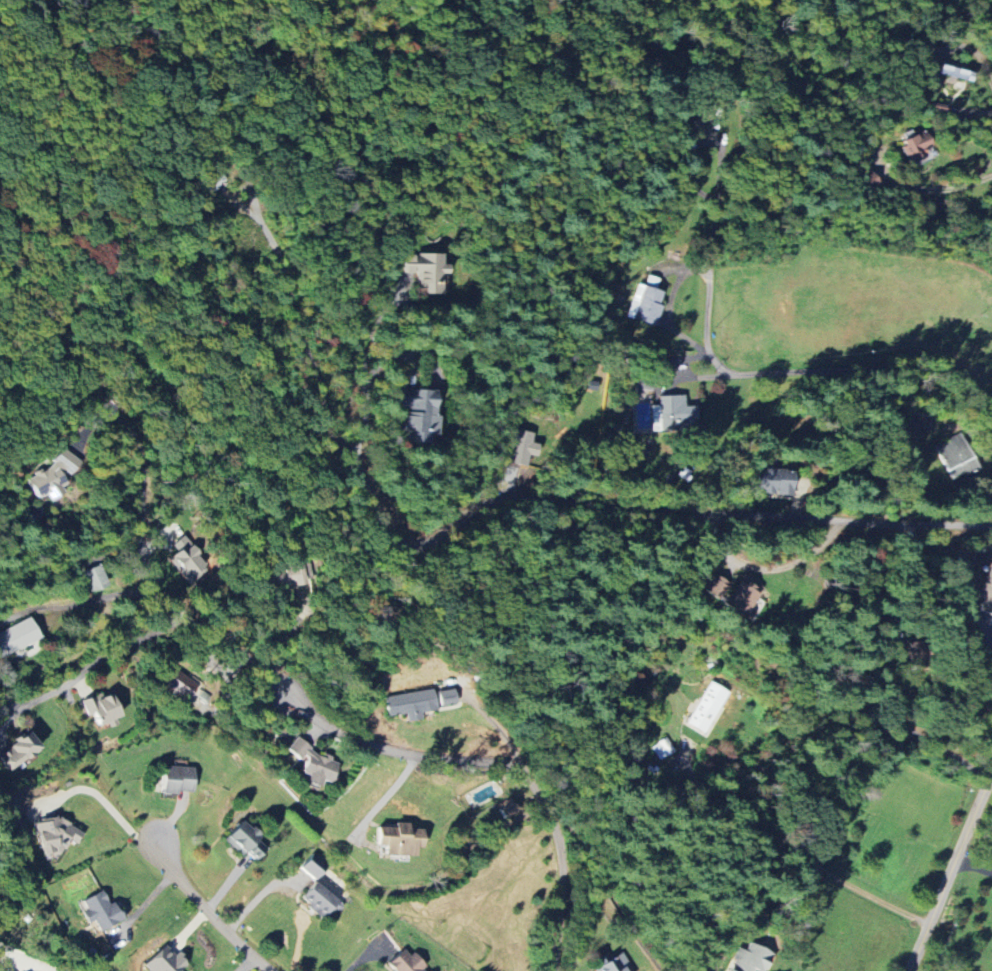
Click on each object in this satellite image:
road: (976, 113)
building: (705, 123)
building: (917, 145)
road: (720, 153)
building: (867, 181)
road: (931, 188)
building: (425, 272)
building: (646, 302)
road: (299, 328)
road: (804, 369)
building: (418, 414)
building: (672, 414)
road: (138, 448)
building: (522, 448)
building: (956, 456)
building: (50, 477)
building: (774, 481)
road: (560, 499)
building: (188, 561)
building: (286, 577)
building: (95, 579)
building: (715, 588)
building: (743, 594)
building: (987, 595)
road: (74, 603)
building: (17, 637)
road: (89, 666)
building: (184, 687)
building: (447, 697)
road: (11, 704)
building: (411, 704)
building: (707, 708)
building: (101, 709)
road: (932, 741)
road: (393, 749)
building: (662, 749)
building: (17, 751)
building: (314, 764)
building: (177, 780)
road: (107, 803)
building: (55, 836)
building: (399, 840)
building: (246, 841)
road: (806, 857)
building: (312, 867)
road: (951, 873)
building: (321, 901)
building: (99, 911)
road: (208, 913)
road: (364, 956)
building: (750, 959)
building: (164, 961)
road: (243, 962)
building: (405, 963)
building: (612, 965)

